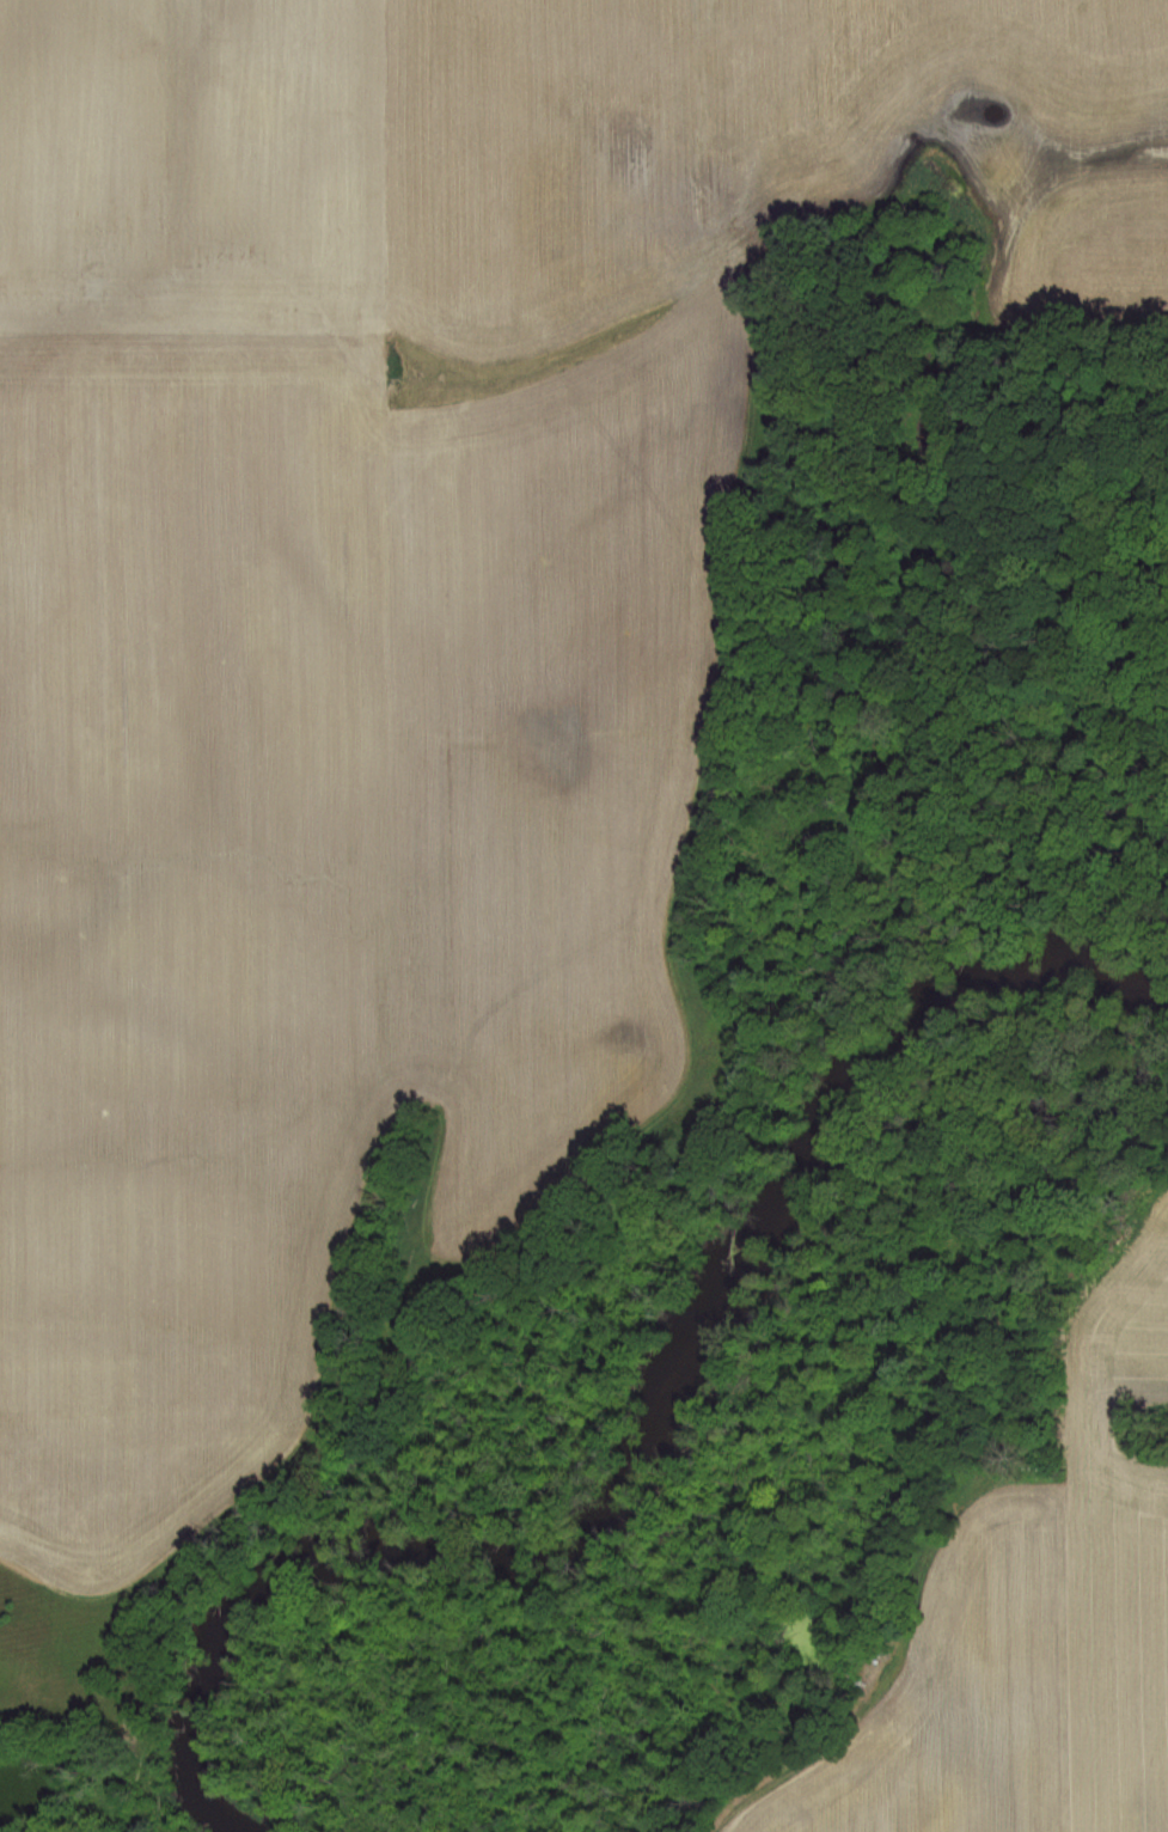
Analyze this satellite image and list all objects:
river: (649, 1437)

